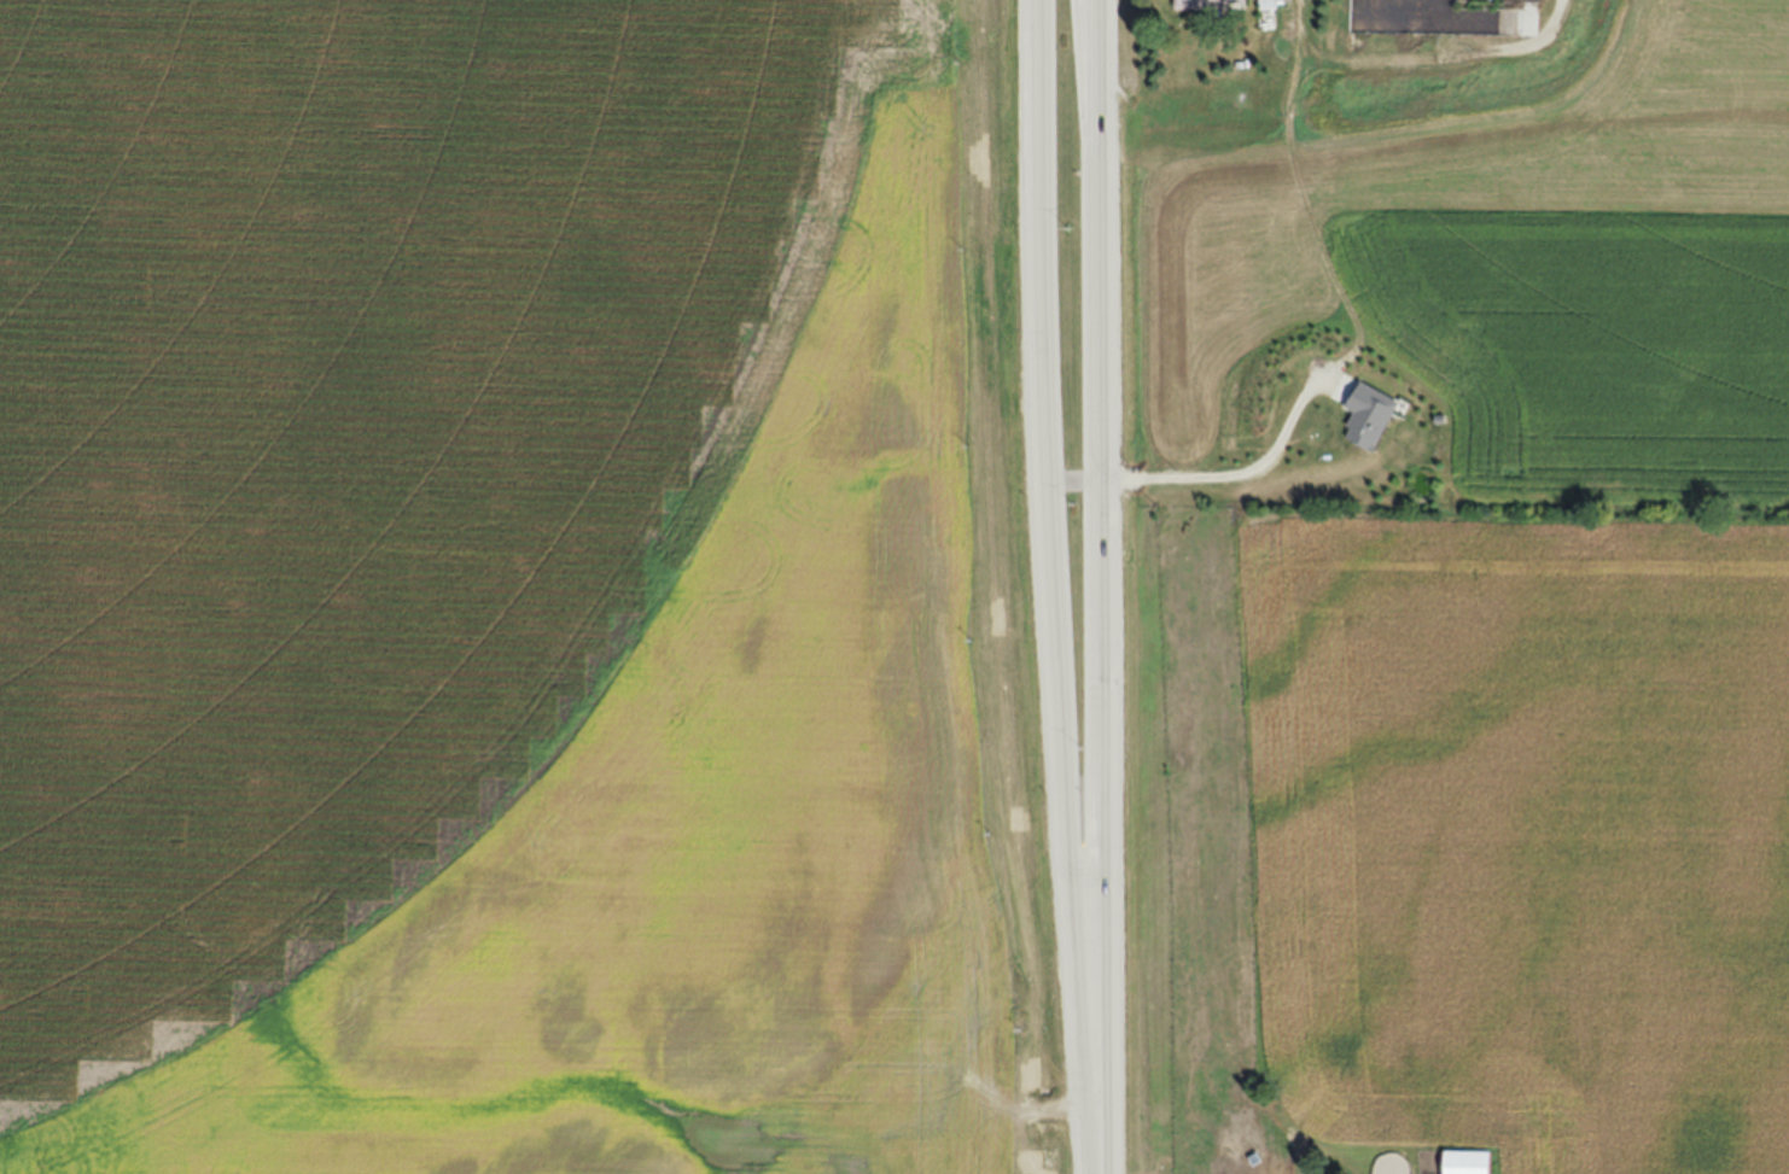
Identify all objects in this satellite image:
building: (1210, 5)
road: (1240, 469)
road: (1106, 565)
road: (1049, 566)
crop: (519, 591)
road: (1108, 1151)
building: (1467, 1162)

